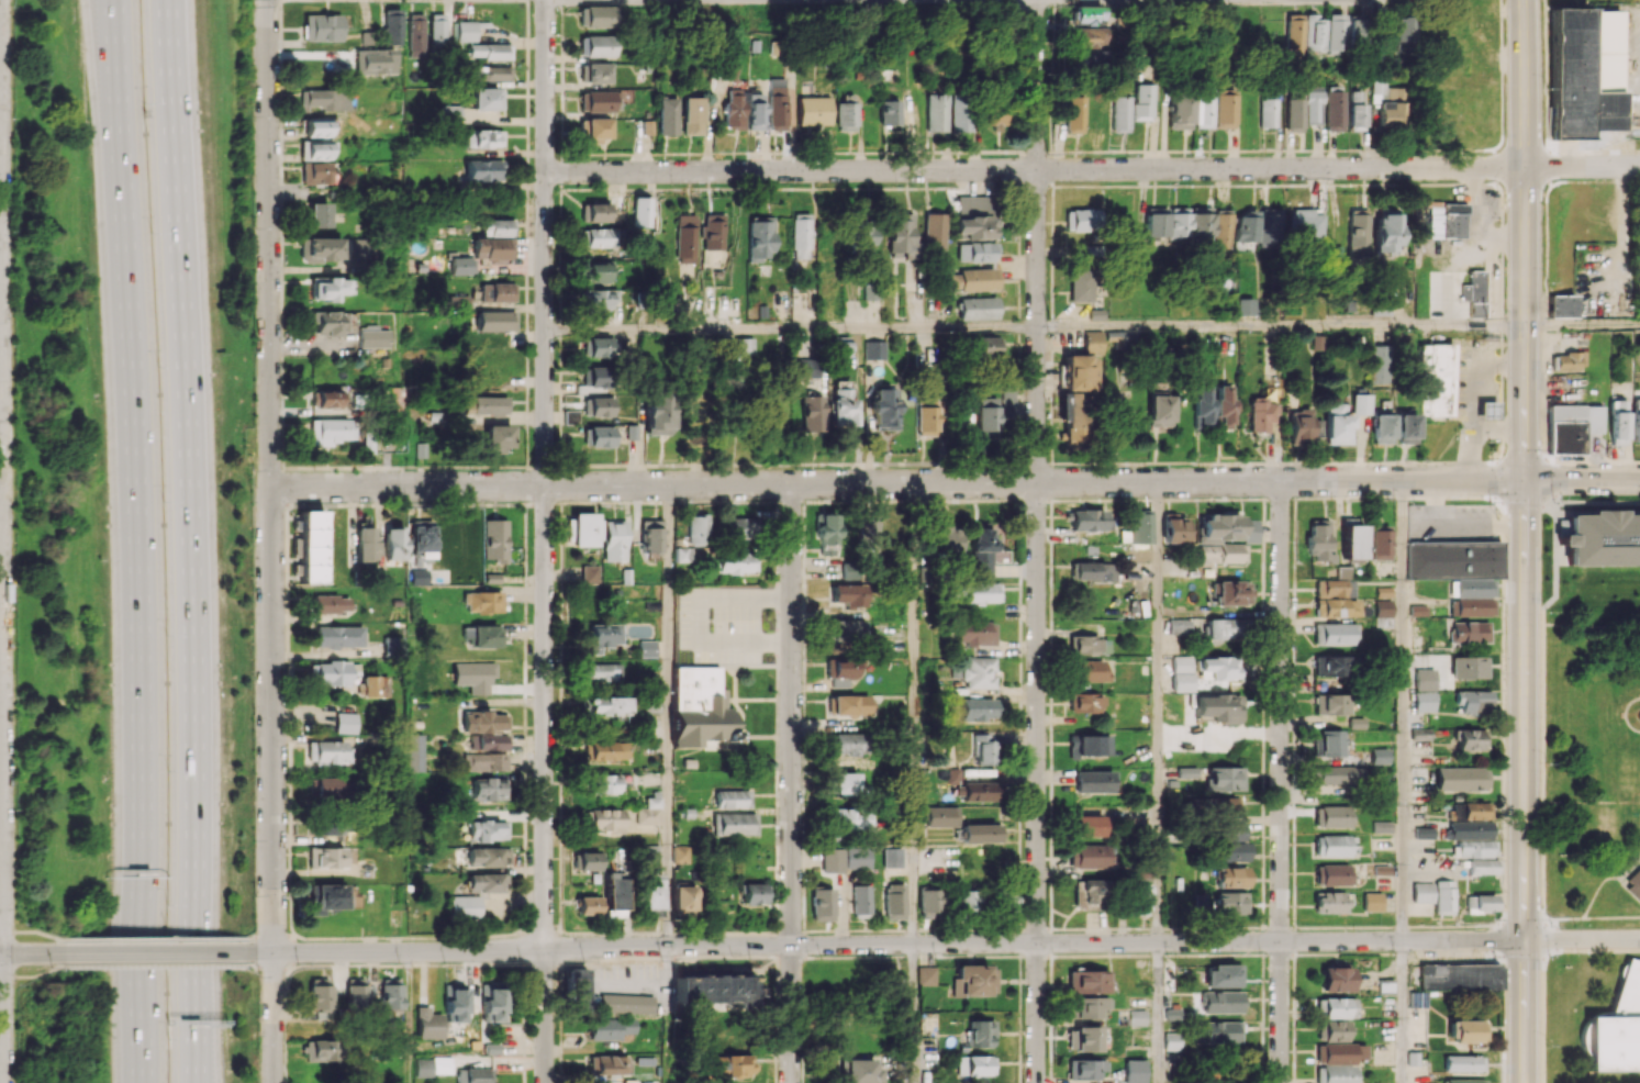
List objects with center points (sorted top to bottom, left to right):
power tower: (253, 1)
building: (1087, 14)
building: (596, 16)
building: (391, 22)
building: (321, 26)
building: (438, 30)
building: (465, 31)
building: (1355, 31)
building: (1294, 33)
building: (1314, 33)
building: (1335, 33)
building: (1402, 33)
building: (415, 35)
building: (1089, 36)
building: (598, 45)
building: (489, 51)
building: (1087, 59)
building: (375, 60)
building: (725, 70)
building: (491, 72)
building: (596, 72)
building: (1585, 76)
building: (320, 98)
building: (487, 99)
building: (598, 101)
building: (1138, 101)
street lamp: (142, 102)
building: (777, 103)
building: (1385, 103)
building: (1312, 104)
building: (1201, 108)
building: (732, 109)
building: (1334, 109)
building: (1357, 110)
building: (754, 111)
building: (813, 111)
building: (1223, 111)
building: (889, 112)
building: (935, 112)
building: (959, 112)
building: (1176, 112)
building: (1267, 112)
building: (450, 113)
building: (845, 113)
building: (1115, 113)
building: (1293, 113)
building: (995, 114)
building: (1071, 114)
building: (690, 115)
building: (665, 116)
building: (316, 127)
building: (593, 130)
building: (483, 138)
building: (314, 149)
road: (1582, 166)
building: (484, 169)
road: (1035, 169)
building: (314, 172)
road: (171, 175)
building: (642, 211)
building: (598, 212)
building: (317, 214)
building: (974, 217)
building: (1082, 220)
building: (1446, 220)
building: (1157, 223)
building: (1180, 223)
building: (1306, 224)
building: (498, 226)
building: (1247, 226)
building: (1270, 226)
street lamp: (252, 227)
building: (1202, 228)
building: (1386, 230)
street lamp: (13, 231)
building: (1223, 231)
street lamp: (150, 232)
building: (714, 232)
building: (1358, 234)
building: (800, 235)
building: (827, 235)
building: (900, 235)
building: (933, 235)
building: (602, 237)
building: (685, 238)
building: (758, 238)
building: (861, 239)
building: (322, 248)
building: (493, 248)
building: (358, 250)
building: (974, 252)
building: (462, 265)
building: (600, 272)
building: (971, 279)
building: (1080, 284)
building: (330, 288)
building: (870, 291)
building: (497, 292)
building: (1474, 293)
building: (598, 298)
building: (1560, 305)
building: (1245, 306)
building: (977, 308)
building: (495, 321)
road: (1582, 324)
road: (1281, 326)
road: (791, 327)
building: (372, 338)
building: (1115, 338)
street lamp: (253, 343)
street lamp: (12, 344)
building: (743, 346)
building: (839, 346)
building: (598, 347)
building: (984, 347)
building: (873, 349)
building: (1568, 360)
building: (1382, 364)
street lamp: (157, 367)
building: (807, 367)
building: (1080, 368)
building: (598, 377)
building: (1436, 378)
building: (327, 398)
road: (1475, 398)
building: (1006, 402)
building: (1360, 403)
building: (486, 404)
building: (841, 404)
building: (1201, 404)
building: (600, 406)
building: (1221, 406)
building: (884, 409)
building: (1487, 411)
building: (1159, 412)
building: (657, 413)
building: (1261, 413)
building: (812, 414)
building: (985, 415)
building: (571, 416)
building: (1074, 417)
building: (1617, 420)
building: (1636, 420)
building: (925, 421)
building: (1336, 424)
building: (1303, 425)
road: (1499, 426)
building: (1570, 427)
building: (1380, 428)
building: (1404, 428)
building: (331, 431)
building: (600, 436)
building: (498, 438)
street lamp: (250, 469)
road: (1582, 478)
traffic signals: (1524, 479)
road: (897, 483)
street lamp: (161, 499)
building: (1089, 520)
building: (868, 527)
building: (740, 528)
building: (1140, 528)
building: (582, 529)
building: (695, 529)
building: (1173, 529)
building: (826, 531)
building: (1249, 531)
building: (650, 535)
building: (897, 537)
building: (1602, 538)
building: (422, 539)
building: (494, 539)
building: (1218, 539)
road: (137, 540)
road: (271, 540)
road: (545, 540)
building: (613, 540)
building: (949, 540)
road: (1036, 540)
building: (1317, 540)
road: (1524, 540)
building: (1350, 541)
building: (394, 543)
building: (1377, 543)
building: (366, 544)
building: (311, 547)
building: (981, 549)
building: (735, 562)
road: (1543, 563)
building: (848, 568)
building: (1094, 571)
building: (1459, 571)
building: (590, 573)
building: (419, 577)
street lamp: (12, 583)
building: (1231, 592)
building: (980, 593)
building: (846, 594)
building: (1335, 596)
building: (481, 602)
building: (330, 604)
building: (1383, 613)
road: (703, 618)
building: (1179, 627)
road: (1591, 627)
building: (1225, 628)
building: (844, 630)
building: (1469, 632)
building: (974, 633)
building: (1335, 634)
street lamp: (166, 635)
building: (481, 635)
building: (337, 636)
building: (604, 636)
building: (1086, 645)
building: (647, 648)
building: (1331, 666)
building: (1469, 667)
building: (1219, 668)
building: (1087, 670)
building: (600, 671)
building: (841, 672)
building: (980, 672)
building: (1181, 673)
building: (1424, 679)
building: (370, 686)
building: (1424, 701)
building: (1084, 702)
building: (1473, 702)
building: (1330, 704)
building: (603, 705)
building: (848, 705)
building: (699, 706)
building: (1219, 707)
building: (979, 708)
road: (1157, 712)
road: (913, 713)
street lamp: (252, 715)
road: (668, 715)
road: (193, 716)
building: (344, 723)
building: (486, 729)
building: (1471, 739)
building: (1327, 743)
building: (844, 744)
building: (1089, 746)
building: (984, 747)
building: (605, 750)
building: (415, 751)
building: (328, 752)
building: (1377, 756)
building: (484, 761)
street lamp: (167, 770)
road: (1542, 771)
building: (1186, 772)
building: (1328, 773)
building: (1461, 778)
building: (1225, 779)
building: (1093, 781)
road: (1403, 781)
building: (610, 782)
building: (843, 782)
road: (1281, 782)
road: (792, 783)
building: (327, 788)
building: (489, 789)
building: (979, 792)
building: (730, 799)
road: (1591, 802)
building: (1225, 805)
street lamp: (13, 808)
building: (1471, 810)
building: (648, 812)
building: (940, 816)
building: (1332, 816)
building: (849, 818)
building: (605, 819)
building: (734, 824)
building: (326, 825)
building: (1085, 826)
building: (1381, 826)
building: (1468, 829)
building: (487, 830)
building: (980, 833)
building: (1423, 833)
street lamp: (253, 839)
building: (1231, 842)
park: (1595, 847)
building: (1473, 848)
building: (648, 852)
building: (681, 853)
building: (1087, 856)
building: (324, 857)
building: (488, 857)
building: (856, 859)
building: (832, 860)
building: (891, 860)
building: (588, 861)
building: (1481, 867)
building: (1382, 869)
building: (1332, 874)
building: (1231, 878)
road: (1604, 880)
building: (487, 882)
building: (1633, 883)
building: (615, 890)
building: (651, 891)
building: (1421, 892)
building: (754, 893)
building: (1086, 894)
building: (327, 897)
building: (683, 897)
building: (1442, 897)
building: (1139, 900)
building: (860, 901)
building: (967, 902)
building: (1231, 902)
building: (1331, 902)
building: (1371, 902)
building: (894, 903)
building: (930, 903)
building: (1483, 903)
street lamp: (168, 904)
building: (822, 904)
building: (1007, 904)
building: (589, 905)
building: (465, 906)
road: (1563, 917)
road: (1611, 917)
street lamp: (18, 924)
road: (33, 930)
street lamp: (167, 935)
road: (155, 938)
road: (401, 938)
traffic signals: (1526, 939)
road: (1583, 939)
street lamp: (306, 941)
road: (884, 944)
road: (29, 952)
road: (150, 952)
street lamp: (398, 962)
road: (395, 964)
road: (159, 965)
street lamp: (256, 975)
building: (926, 975)
building: (1218, 975)
road: (35, 976)
building: (1459, 976)
building: (1335, 979)
building: (974, 980)
building: (1086, 982)
street lamp: (13, 983)
building: (1384, 986)
building: (712, 990)
building: (577, 991)
building: (355, 993)
building: (390, 995)
building: (320, 997)
building: (1416, 1000)
building: (1221, 1002)
building: (454, 1003)
building: (492, 1003)
building: (626, 1004)
building: (1087, 1006)
building: (1338, 1007)
road: (912, 1013)
road: (1157, 1013)
road: (668, 1014)
road: (409, 1017)
building: (1137, 1017)
building: (427, 1024)
building: (611, 1028)
building: (1616, 1028)
building: (1334, 1029)
building: (1469, 1030)
building: (1221, 1031)
building: (979, 1032)
street lamp: (168, 1039)
building: (1082, 1039)
building: (317, 1050)
building: (1338, 1061)
building: (1463, 1062)
building: (609, 1064)
building: (434, 1065)
building: (730, 1065)
building: (973, 1065)
building: (1084, 1069)
building: (857, 1071)
building: (1133, 1071)
building: (473, 1075)
building: (1464, 1081)

